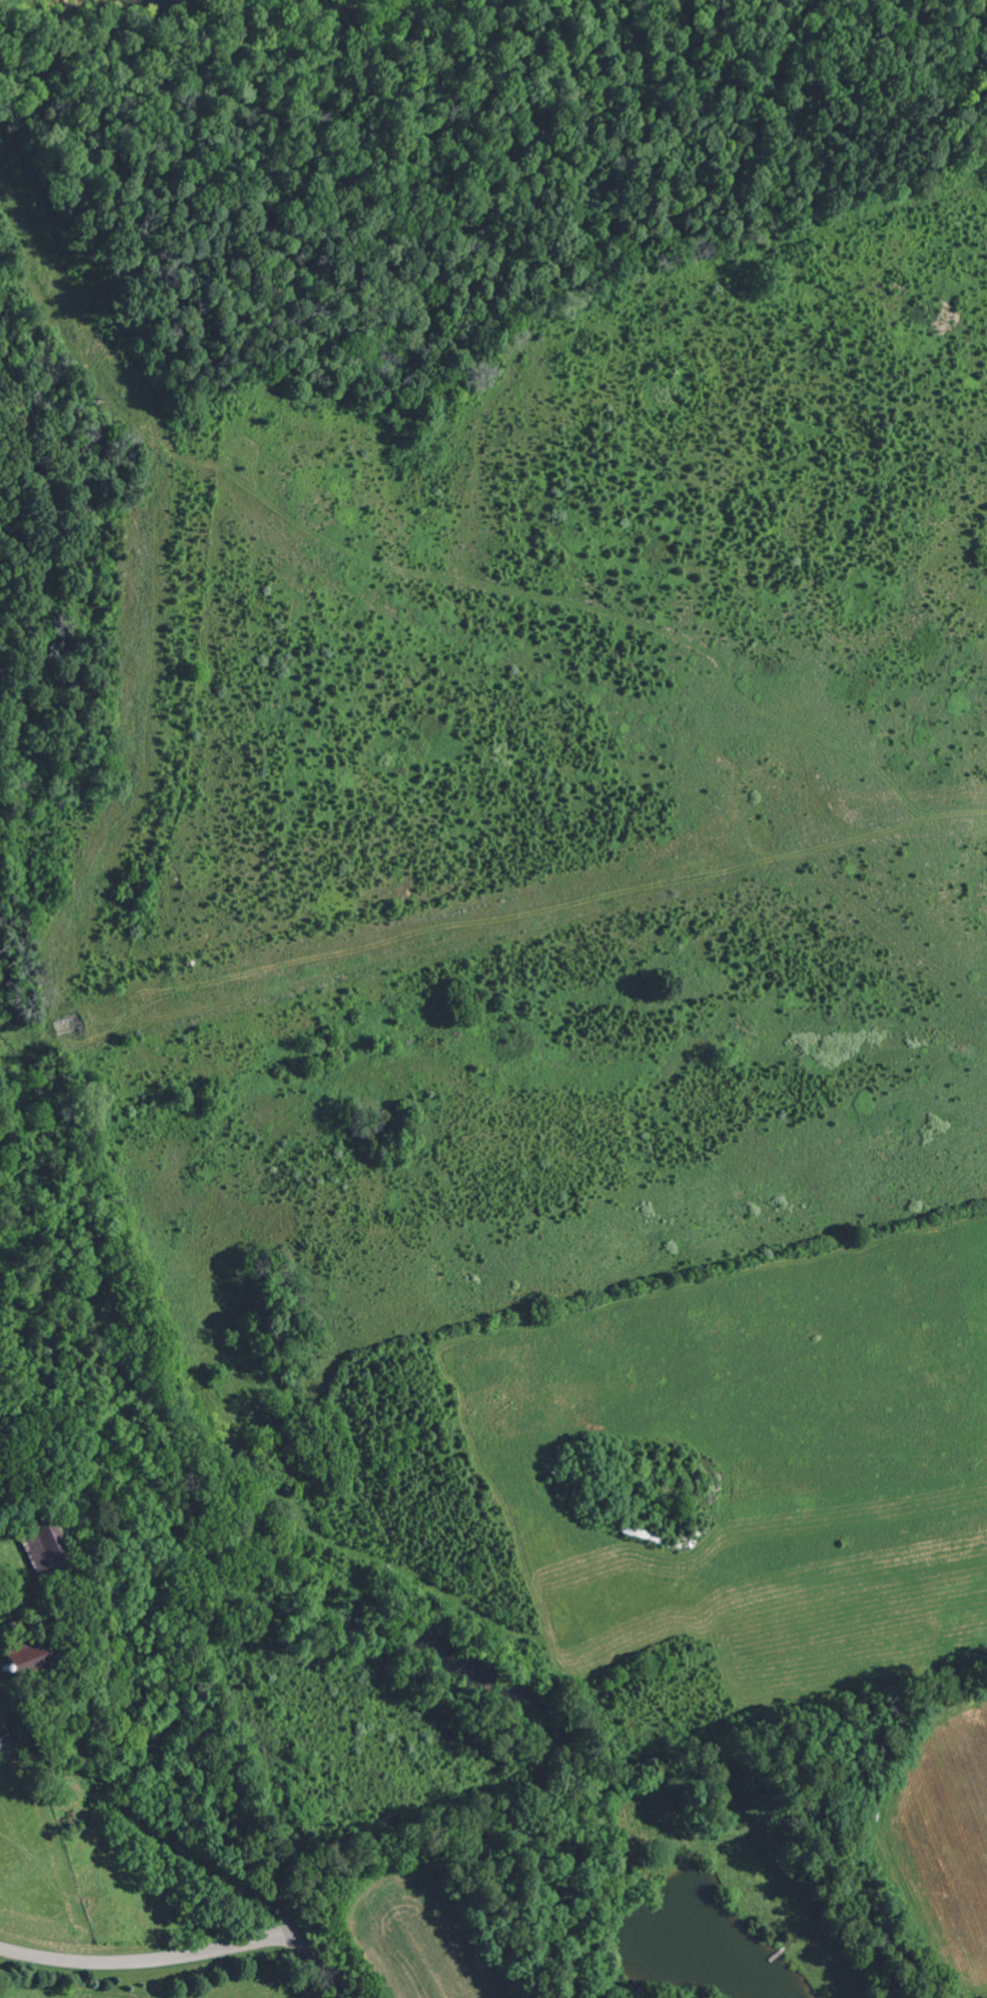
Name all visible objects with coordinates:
building: (39, 1547)
building: (33, 1662)
building: (4, 1741)
road: (188, 1949)

